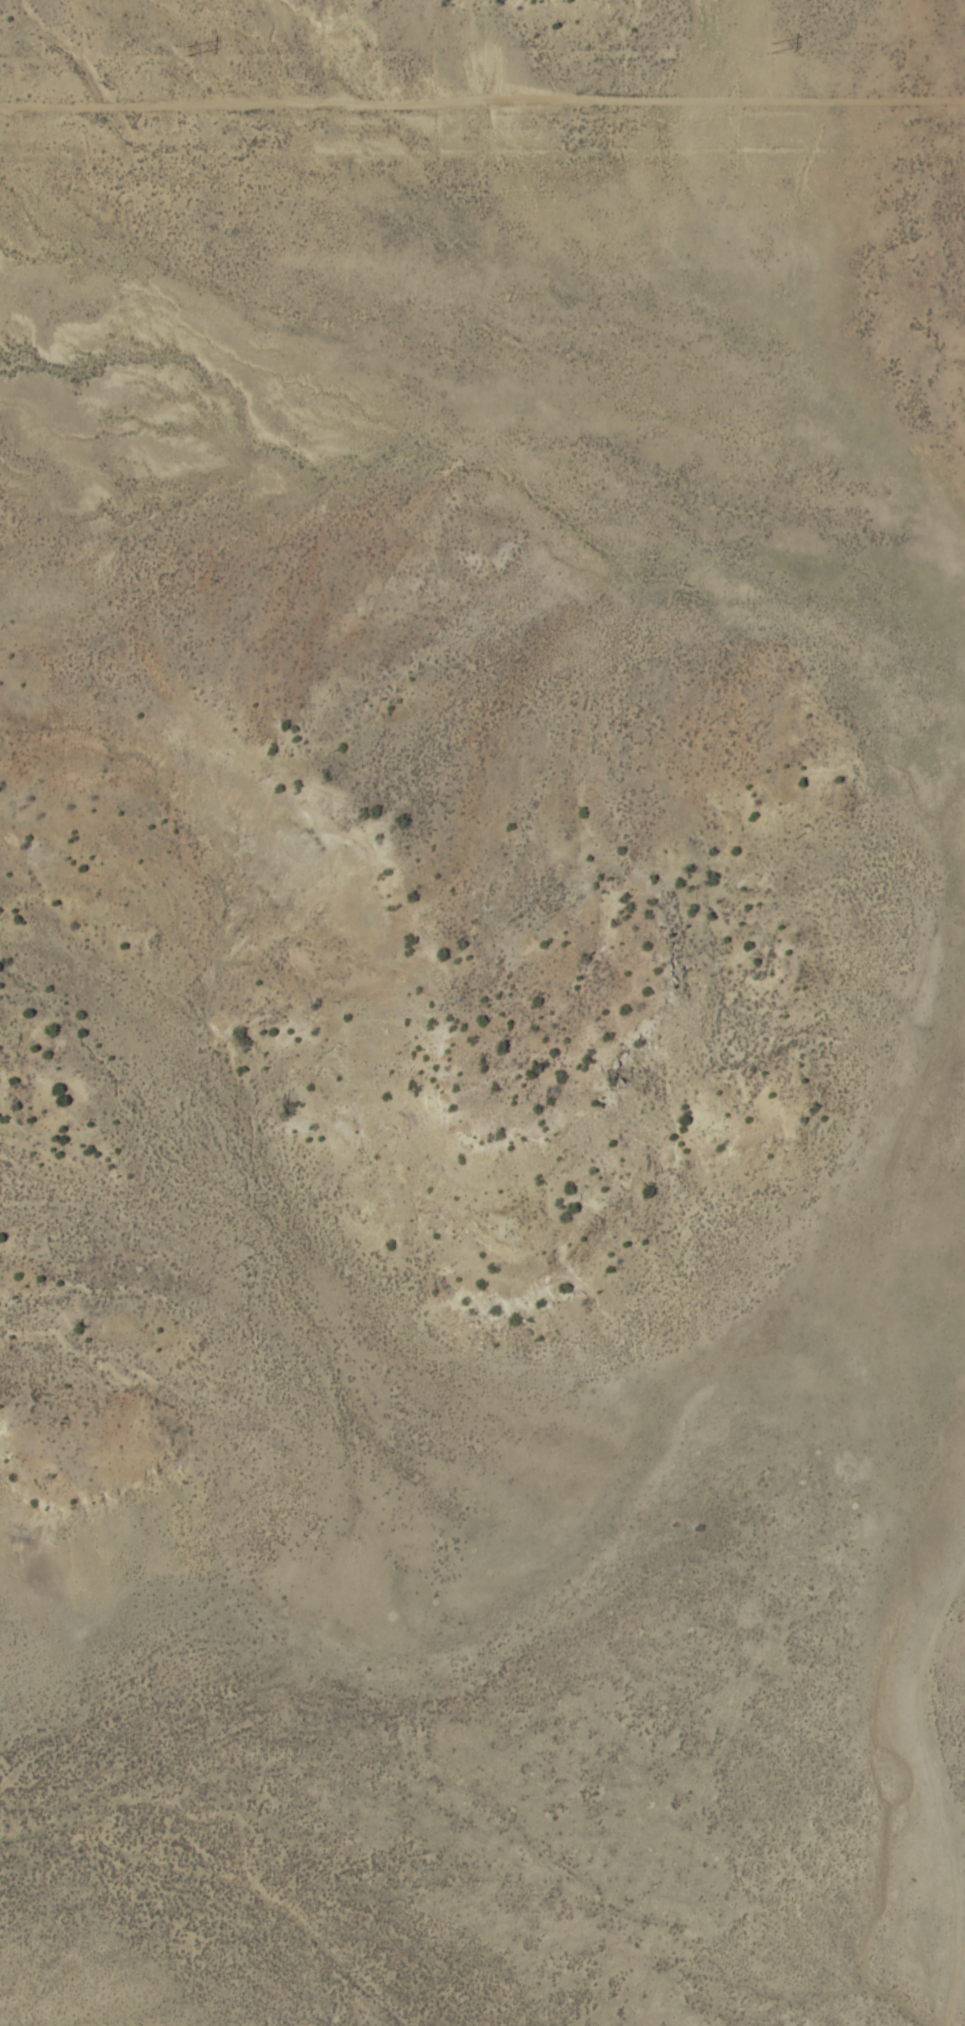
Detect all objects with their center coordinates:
power tower: (770, 49)
power tower: (184, 52)
road: (881, 1260)

